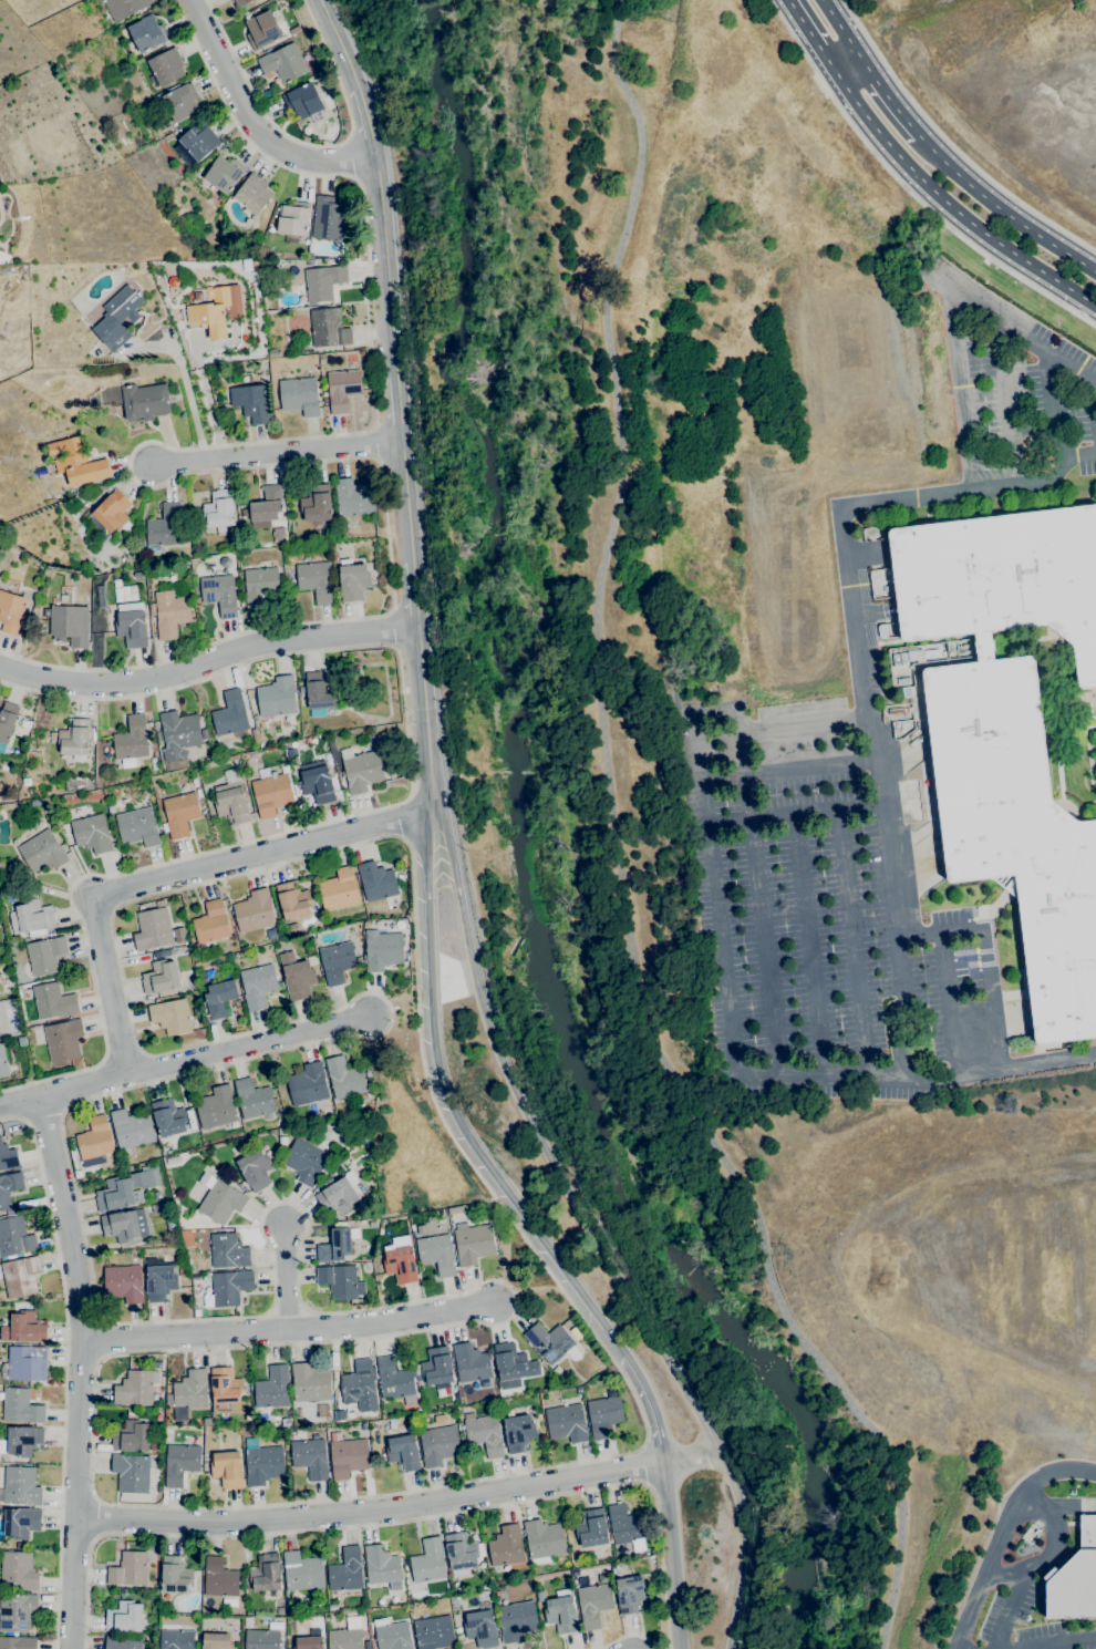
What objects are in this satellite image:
building: (230, 0)
building: (256, 0)
building: (241, 2)
building: (123, 7)
road: (840, 29)
building: (262, 30)
building: (294, 30)
building: (147, 33)
road: (333, 34)
road: (813, 37)
building: (283, 63)
building: (166, 66)
road: (849, 66)
road: (890, 97)
building: (151, 101)
building: (180, 101)
building: (303, 101)
road: (363, 109)
road: (252, 121)
building: (198, 141)
road: (951, 143)
road: (311, 144)
road: (350, 157)
building: (224, 173)
building: (252, 194)
building: (219, 198)
road: (951, 206)
road: (1004, 208)
road: (938, 216)
building: (293, 219)
building: (328, 219)
building: (310, 256)
road: (385, 261)
building: (323, 282)
road: (603, 297)
building: (211, 311)
building: (118, 317)
road: (1013, 326)
building: (329, 328)
road: (168, 340)
road: (221, 344)
building: (273, 353)
road: (240, 357)
road: (185, 383)
parking lot: (1030, 387)
road: (204, 389)
building: (342, 389)
road: (968, 390)
building: (299, 395)
building: (324, 400)
road: (1093, 400)
building: (144, 401)
building: (251, 402)
road: (1010, 402)
road: (1056, 404)
road: (397, 408)
road: (273, 452)
building: (76, 462)
road: (133, 477)
building: (80, 498)
building: (353, 498)
road: (405, 501)
building: (317, 504)
building: (266, 506)
building: (220, 512)
building: (199, 514)
building: (108, 516)
building: (354, 524)
building: (164, 528)
building: (136, 575)
building: (1001, 577)
building: (316, 580)
building: (353, 580)
building: (260, 587)
building: (219, 594)
road: (413, 594)
building: (110, 605)
building: (11, 612)
building: (169, 614)
building: (69, 625)
building: (132, 628)
road: (391, 628)
building: (882, 631)
building: (983, 647)
building: (921, 655)
road: (207, 659)
road: (859, 659)
building: (355, 670)
building: (903, 681)
building: (320, 691)
building: (907, 691)
building: (277, 697)
building: (895, 711)
building: (230, 714)
road: (425, 717)
building: (7, 723)
building: (25, 723)
building: (178, 734)
building: (204, 734)
building: (254, 735)
building: (52, 736)
building: (74, 736)
building: (132, 739)
building: (390, 770)
building: (362, 771)
road: (786, 773)
building: (194, 782)
building: (317, 782)
building: (296, 792)
building: (198, 793)
building: (271, 793)
building: (928, 802)
building: (231, 805)
road: (811, 807)
building: (111, 810)
road: (371, 810)
building: (179, 813)
road: (404, 822)
building: (137, 827)
building: (1016, 832)
building: (91, 833)
building: (42, 852)
river: (524, 862)
building: (2, 865)
road: (179, 877)
building: (401, 878)
building: (376, 882)
building: (339, 890)
building: (292, 900)
road: (756, 903)
building: (254, 911)
parking lot: (817, 916)
building: (31, 918)
building: (211, 923)
building: (153, 928)
building: (291, 929)
road: (851, 940)
road: (808, 942)
building: (382, 950)
building: (165, 952)
road: (984, 954)
building: (44, 955)
building: (337, 961)
building: (209, 973)
building: (298, 975)
building: (161, 977)
building: (201, 980)
building: (257, 986)
building: (219, 997)
road: (725, 998)
building: (53, 1001)
road: (950, 1001)
building: (170, 1016)
road: (394, 1016)
building: (63, 1040)
road: (199, 1059)
building: (2, 1062)
building: (25, 1065)
building: (368, 1074)
building: (344, 1078)
road: (709, 1083)
building: (308, 1084)
building: (254, 1099)
road: (19, 1103)
building: (216, 1107)
road: (447, 1107)
building: (168, 1117)
building: (190, 1120)
building: (132, 1128)
road: (713, 1140)
building: (94, 1142)
building: (8, 1157)
building: (173, 1160)
building: (304, 1162)
building: (255, 1168)
building: (9, 1188)
building: (125, 1189)
building: (340, 1194)
building: (219, 1199)
building: (155, 1208)
building: (454, 1209)
road: (502, 1209)
building: (168, 1216)
building: (178, 1216)
building: (125, 1225)
road: (593, 1230)
building: (14, 1236)
building: (473, 1243)
building: (337, 1245)
building: (228, 1251)
building: (436, 1254)
building: (151, 1260)
building: (400, 1261)
building: (20, 1276)
road: (283, 1276)
building: (340, 1281)
building: (159, 1282)
building: (124, 1284)
road: (528, 1287)
building: (228, 1288)
building: (198, 1301)
building: (196, 1312)
building: (24, 1328)
road: (288, 1328)
building: (551, 1343)
building: (471, 1362)
building: (513, 1362)
building: (27, 1363)
building: (156, 1364)
building: (436, 1368)
road: (63, 1370)
road: (81, 1372)
building: (560, 1379)
building: (394, 1381)
building: (310, 1383)
building: (225, 1385)
building: (360, 1385)
building: (136, 1388)
building: (272, 1388)
building: (190, 1391)
road: (649, 1404)
building: (20, 1406)
building: (603, 1415)
building: (206, 1422)
building: (566, 1423)
building: (518, 1433)
building: (485, 1434)
building: (131, 1436)
building: (23, 1441)
building: (436, 1443)
building: (403, 1452)
building: (310, 1457)
building: (348, 1457)
building: (205, 1462)
building: (180, 1463)
building: (263, 1465)
road: (643, 1465)
building: (227, 1468)
building: (131, 1473)
building: (21, 1486)
building: (1071, 1492)
road: (400, 1504)
building: (20, 1522)
road: (400, 1522)
building: (624, 1525)
building: (591, 1529)
road: (1004, 1535)
building: (544, 1540)
building: (506, 1546)
building: (462, 1553)
road: (673, 1554)
road: (1054, 1555)
building: (428, 1560)
building: (381, 1567)
building: (128, 1569)
building: (345, 1570)
building: (18, 1571)
building: (301, 1571)
building: (266, 1573)
building: (175, 1575)
building: (219, 1578)
building: (1075, 1578)
parking lot: (1020, 1580)
building: (654, 1587)
building: (123, 1591)
building: (630, 1594)
building: (540, 1596)
building: (593, 1605)
road: (1011, 1610)
building: (17, 1611)
building: (280, 1611)
building: (561, 1612)
building: (124, 1618)
building: (516, 1620)
building: (248, 1622)
building: (480, 1628)
building: (434, 1632)
building: (392, 1635)
road: (622, 1636)
building: (176, 1639)
building: (261, 1639)
building: (344, 1639)
building: (216, 1641)
building: (18, 1642)
building: (123, 1642)
building: (309, 1642)
road: (1069, 1645)
building: (369, 1646)

